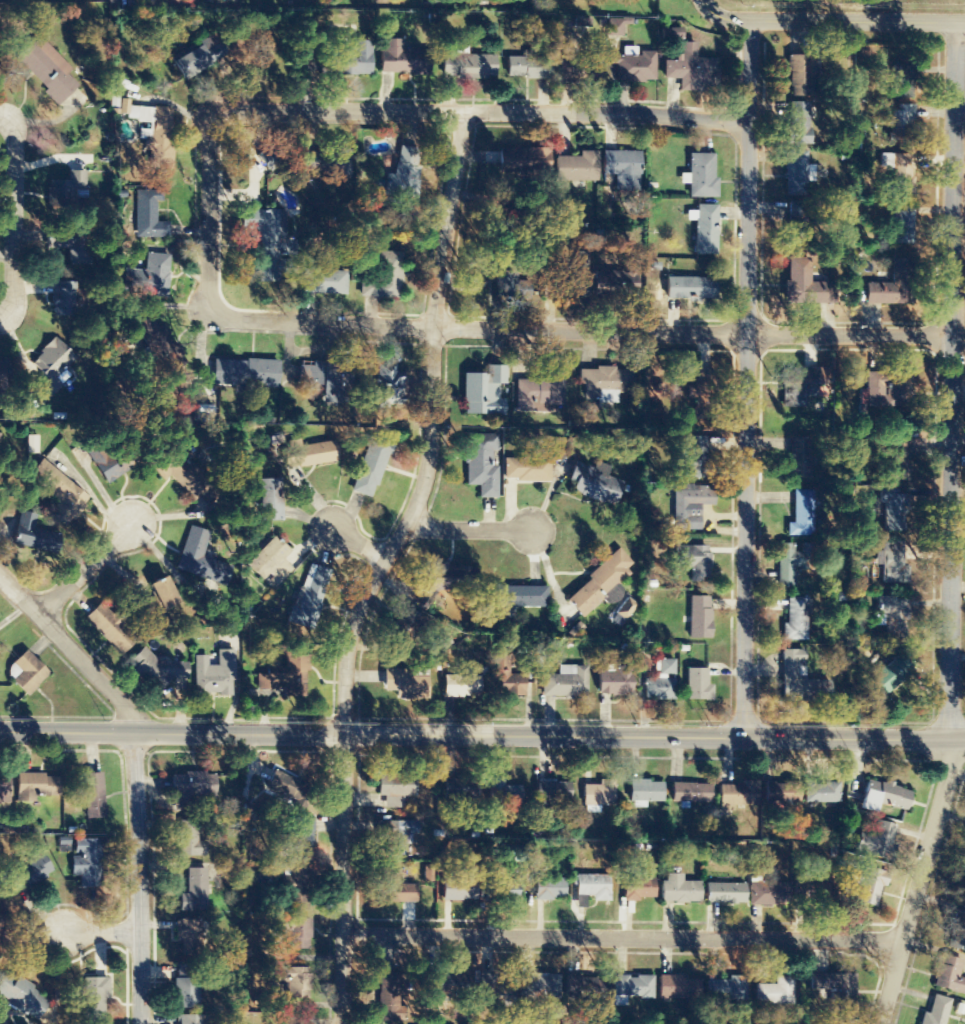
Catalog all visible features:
park: (851, 5)
road: (721, 17)
road: (857, 21)
building: (616, 26)
building: (197, 58)
building: (403, 60)
building: (353, 61)
building: (469, 66)
building: (634, 66)
building: (528, 67)
building: (46, 69)
building: (693, 72)
building: (802, 72)
building: (903, 75)
building: (119, 106)
road: (485, 113)
building: (798, 123)
building: (901, 126)
building: (156, 132)
building: (265, 161)
building: (326, 162)
building: (517, 162)
building: (577, 168)
building: (623, 169)
building: (899, 172)
building: (404, 173)
building: (797, 173)
building: (700, 177)
building: (70, 187)
road: (210, 211)
building: (149, 216)
building: (902, 225)
road: (30, 227)
building: (706, 230)
building: (269, 244)
building: (388, 274)
building: (581, 277)
building: (324, 282)
building: (615, 285)
building: (510, 287)
building: (886, 287)
building: (690, 288)
building: (811, 289)
building: (61, 300)
road: (581, 331)
building: (152, 337)
road: (432, 340)
building: (52, 367)
building: (4, 373)
building: (245, 373)
building: (325, 378)
road: (747, 379)
building: (607, 383)
building: (900, 383)
building: (702, 384)
building: (800, 384)
building: (386, 386)
building: (870, 391)
building: (484, 392)
building: (540, 394)
building: (32, 445)
building: (308, 454)
building: (901, 457)
building: (693, 458)
building: (801, 459)
building: (482, 464)
building: (372, 465)
building: (105, 470)
building: (527, 470)
building: (181, 474)
building: (595, 483)
building: (61, 495)
building: (270, 500)
building: (690, 506)
building: (893, 510)
building: (802, 514)
road: (953, 527)
road: (469, 529)
building: (33, 535)
road: (356, 541)
building: (201, 559)
building: (693, 561)
building: (271, 563)
building: (793, 563)
building: (894, 565)
road: (86, 572)
building: (443, 579)
building: (599, 583)
building: (160, 595)
building: (519, 598)
building: (309, 599)
building: (894, 612)
building: (700, 618)
building: (797, 620)
building: (107, 624)
building: (411, 626)
building: (28, 673)
building: (216, 675)
building: (279, 678)
building: (889, 679)
building: (802, 681)
building: (616, 682)
building: (663, 682)
building: (566, 683)
building: (406, 685)
building: (462, 685)
building: (512, 685)
building: (699, 685)
road: (482, 735)
road: (134, 774)
building: (39, 785)
building: (193, 785)
building: (281, 785)
road: (343, 787)
building: (6, 788)
building: (460, 788)
building: (394, 790)
building: (553, 791)
building: (502, 792)
building: (645, 793)
building: (691, 793)
building: (821, 793)
building: (774, 794)
building: (737, 795)
building: (93, 796)
building: (599, 796)
building: (884, 796)
building: (399, 836)
building: (299, 842)
building: (879, 842)
building: (191, 844)
building: (88, 861)
building: (29, 873)
building: (964, 881)
building: (399, 889)
building: (549, 889)
building: (591, 889)
building: (639, 889)
building: (459, 890)
building: (680, 890)
building: (195, 891)
building: (726, 893)
building: (771, 894)
building: (958, 929)
road: (103, 933)
building: (188, 933)
building: (299, 934)
building: (2, 935)
road: (621, 941)
building: (949, 975)
building: (296, 979)
building: (446, 983)
building: (539, 986)
building: (577, 987)
building: (633, 987)
building: (679, 988)
building: (727, 990)
building: (494, 991)
building: (776, 992)
building: (95, 997)
building: (187, 997)
building: (23, 998)
building: (602, 998)
building: (937, 1011)
building: (188, 1020)
building: (296, 1020)

